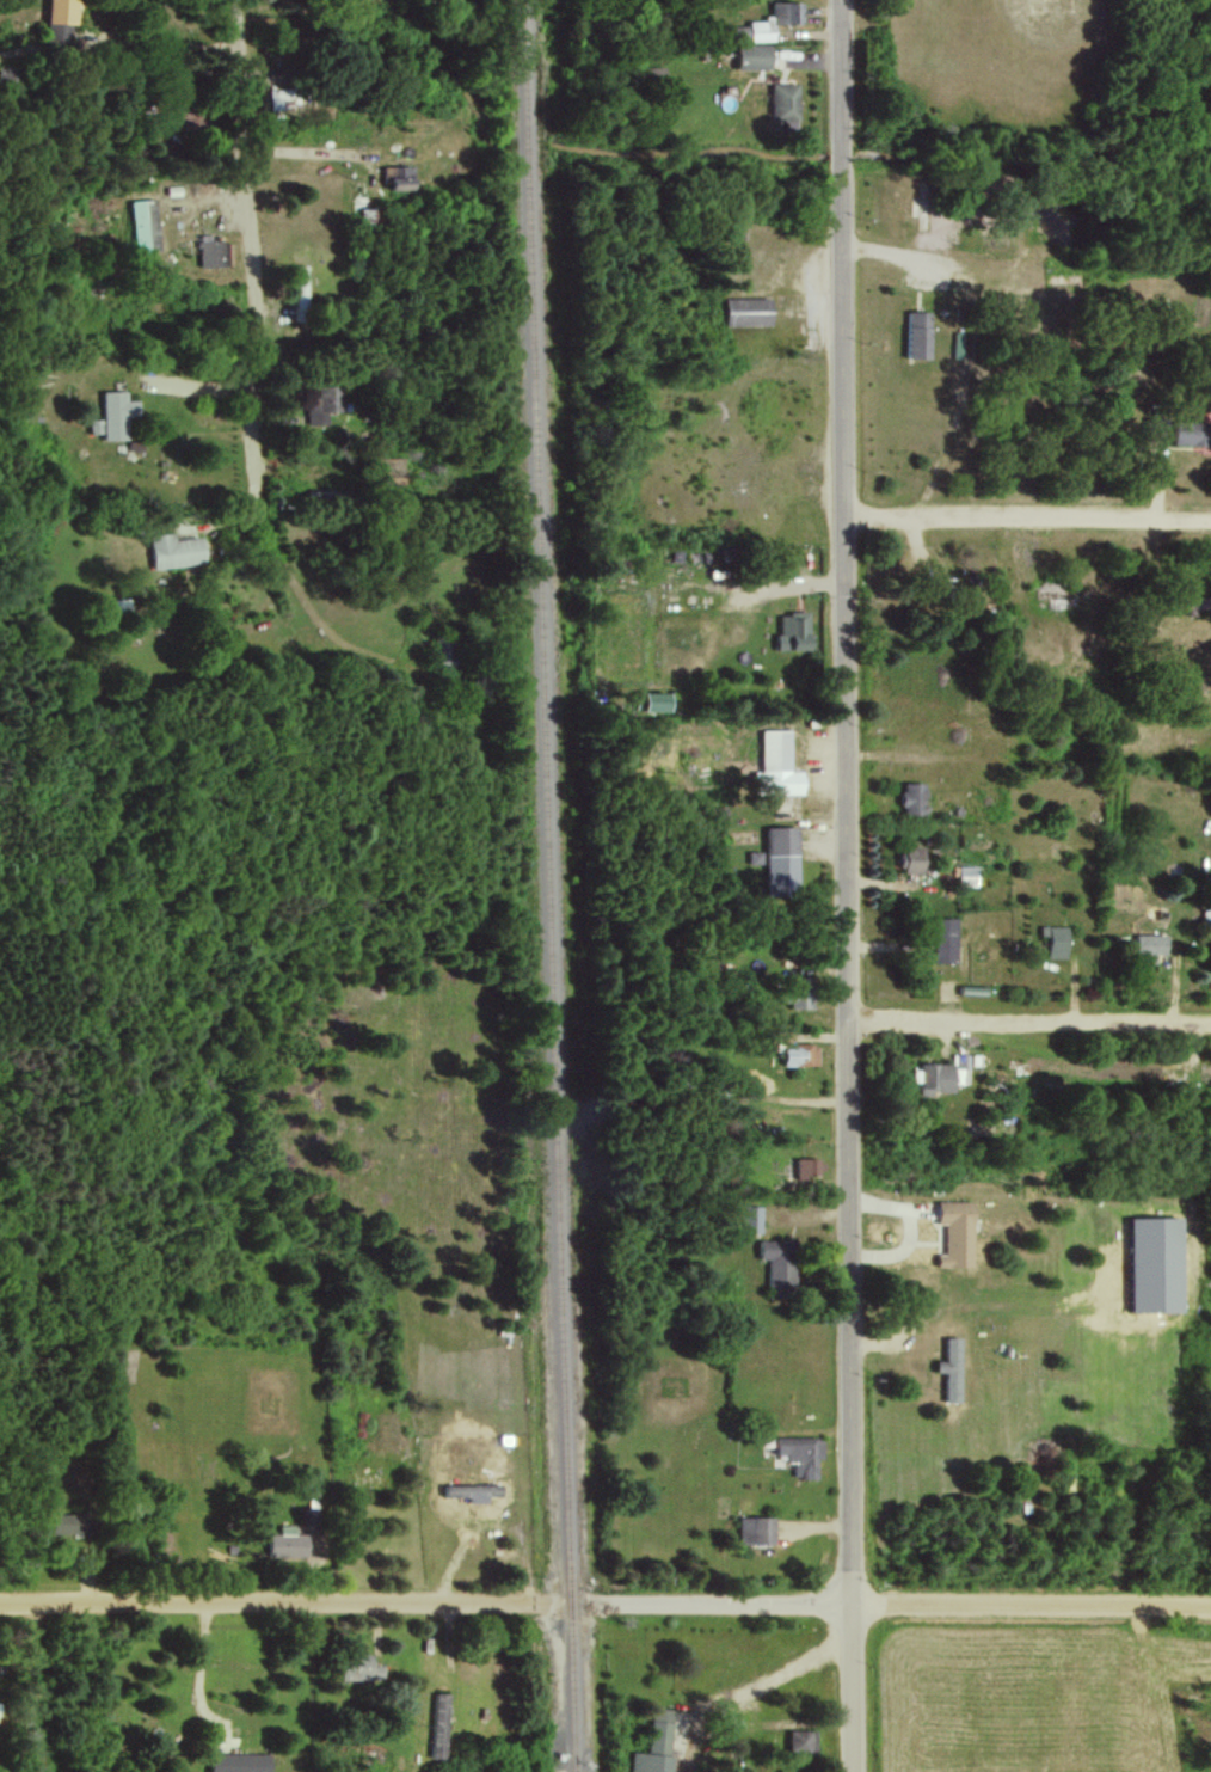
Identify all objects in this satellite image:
building: (61, 19)
building: (768, 22)
building: (755, 55)
building: (279, 96)
building: (786, 102)
road: (311, 149)
building: (400, 176)
building: (145, 223)
building: (213, 251)
building: (301, 292)
building: (749, 311)
building: (918, 333)
road: (250, 379)
building: (324, 403)
building: (117, 413)
building: (1192, 433)
road: (1028, 513)
building: (718, 554)
building: (794, 630)
building: (658, 700)
building: (777, 765)
building: (915, 798)
building: (781, 859)
building: (912, 859)
building: (967, 875)
railway: (552, 885)
road: (847, 885)
building: (1206, 915)
building: (946, 939)
building: (1056, 939)
building: (1149, 946)
building: (801, 994)
road: (1028, 1028)
building: (801, 1054)
building: (941, 1074)
building: (807, 1167)
building: (750, 1219)
building: (957, 1233)
building: (1156, 1264)
building: (780, 1265)
building: (952, 1368)
building: (801, 1454)
building: (474, 1490)
building: (66, 1522)
building: (757, 1529)
building: (287, 1541)
road: (604, 1605)
road: (208, 1666)
building: (361, 1667)
road: (779, 1669)
road: (48, 1686)
building: (439, 1724)
building: (800, 1740)
building: (656, 1745)
building: (239, 1761)

